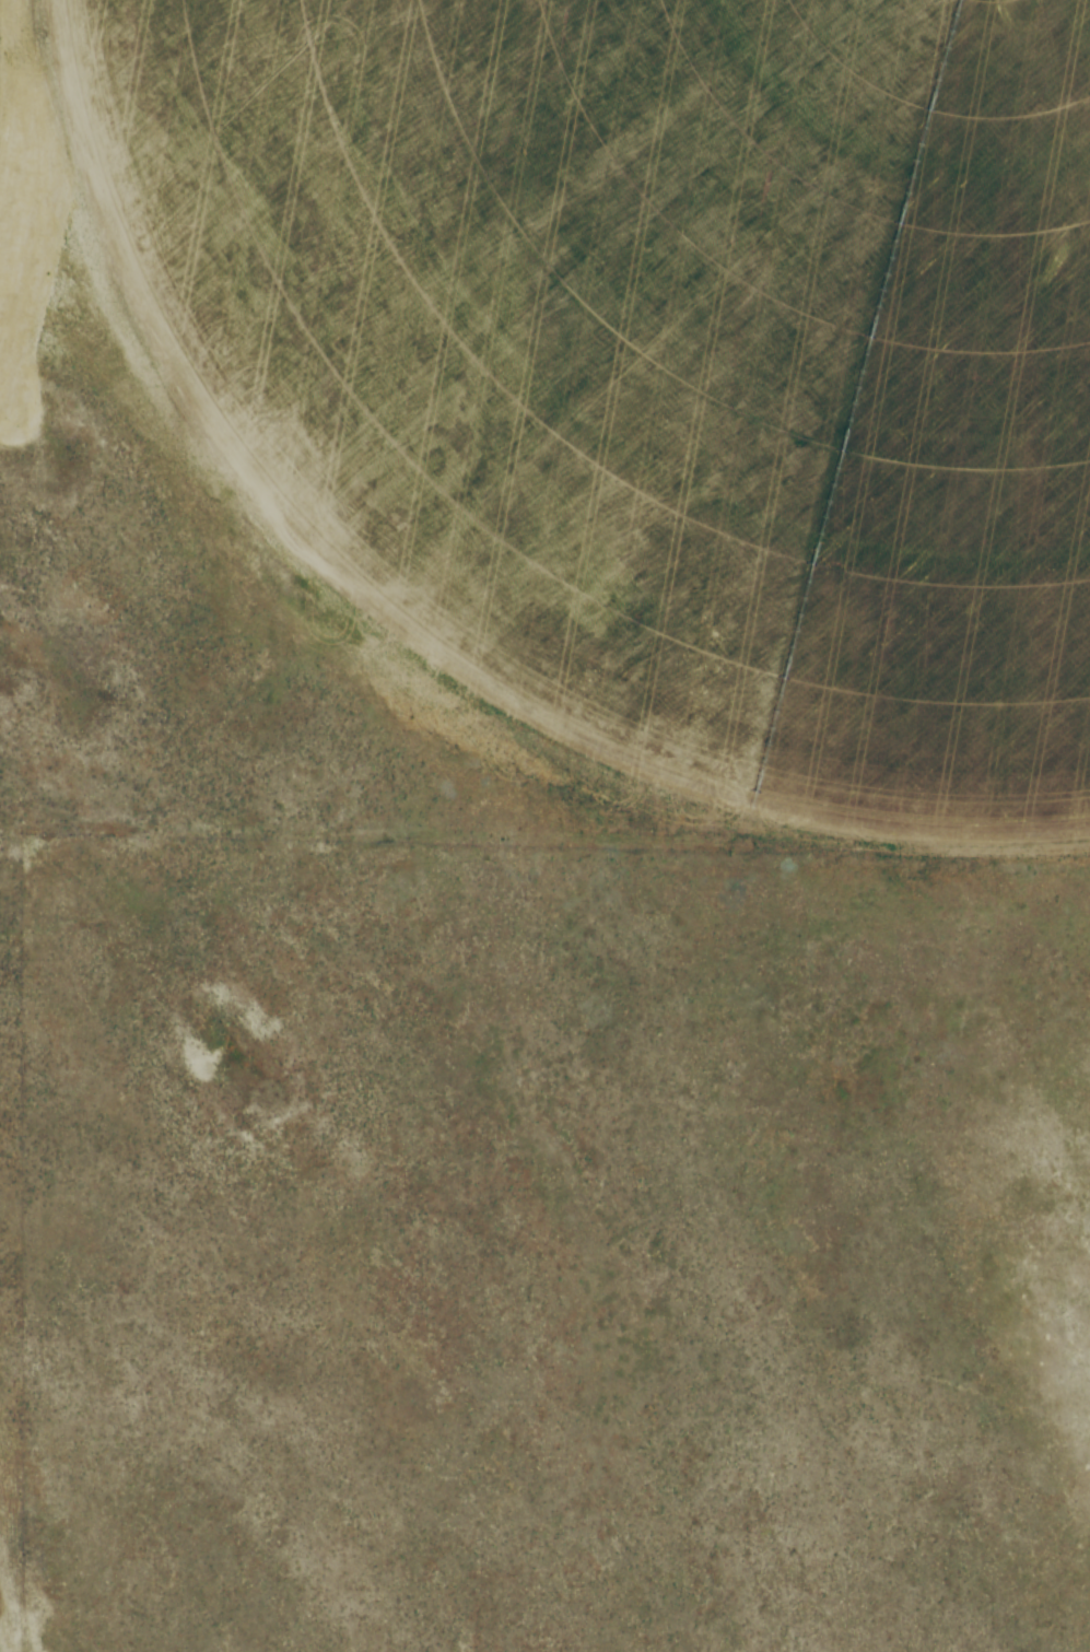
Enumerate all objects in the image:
crop: (648, 362)

